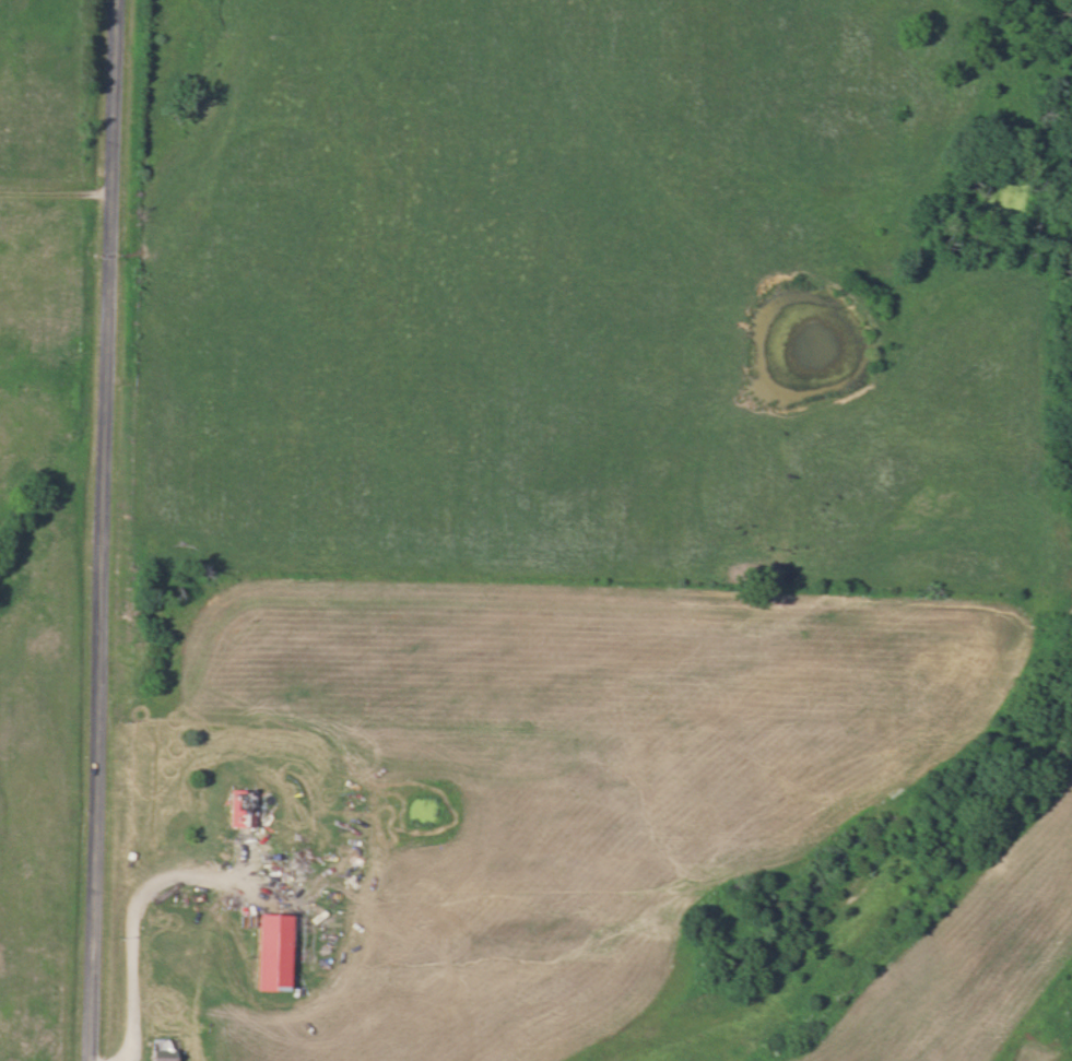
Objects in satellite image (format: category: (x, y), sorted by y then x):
road: (102, 530)
building: (240, 809)
road: (138, 916)
building: (158, 1049)

